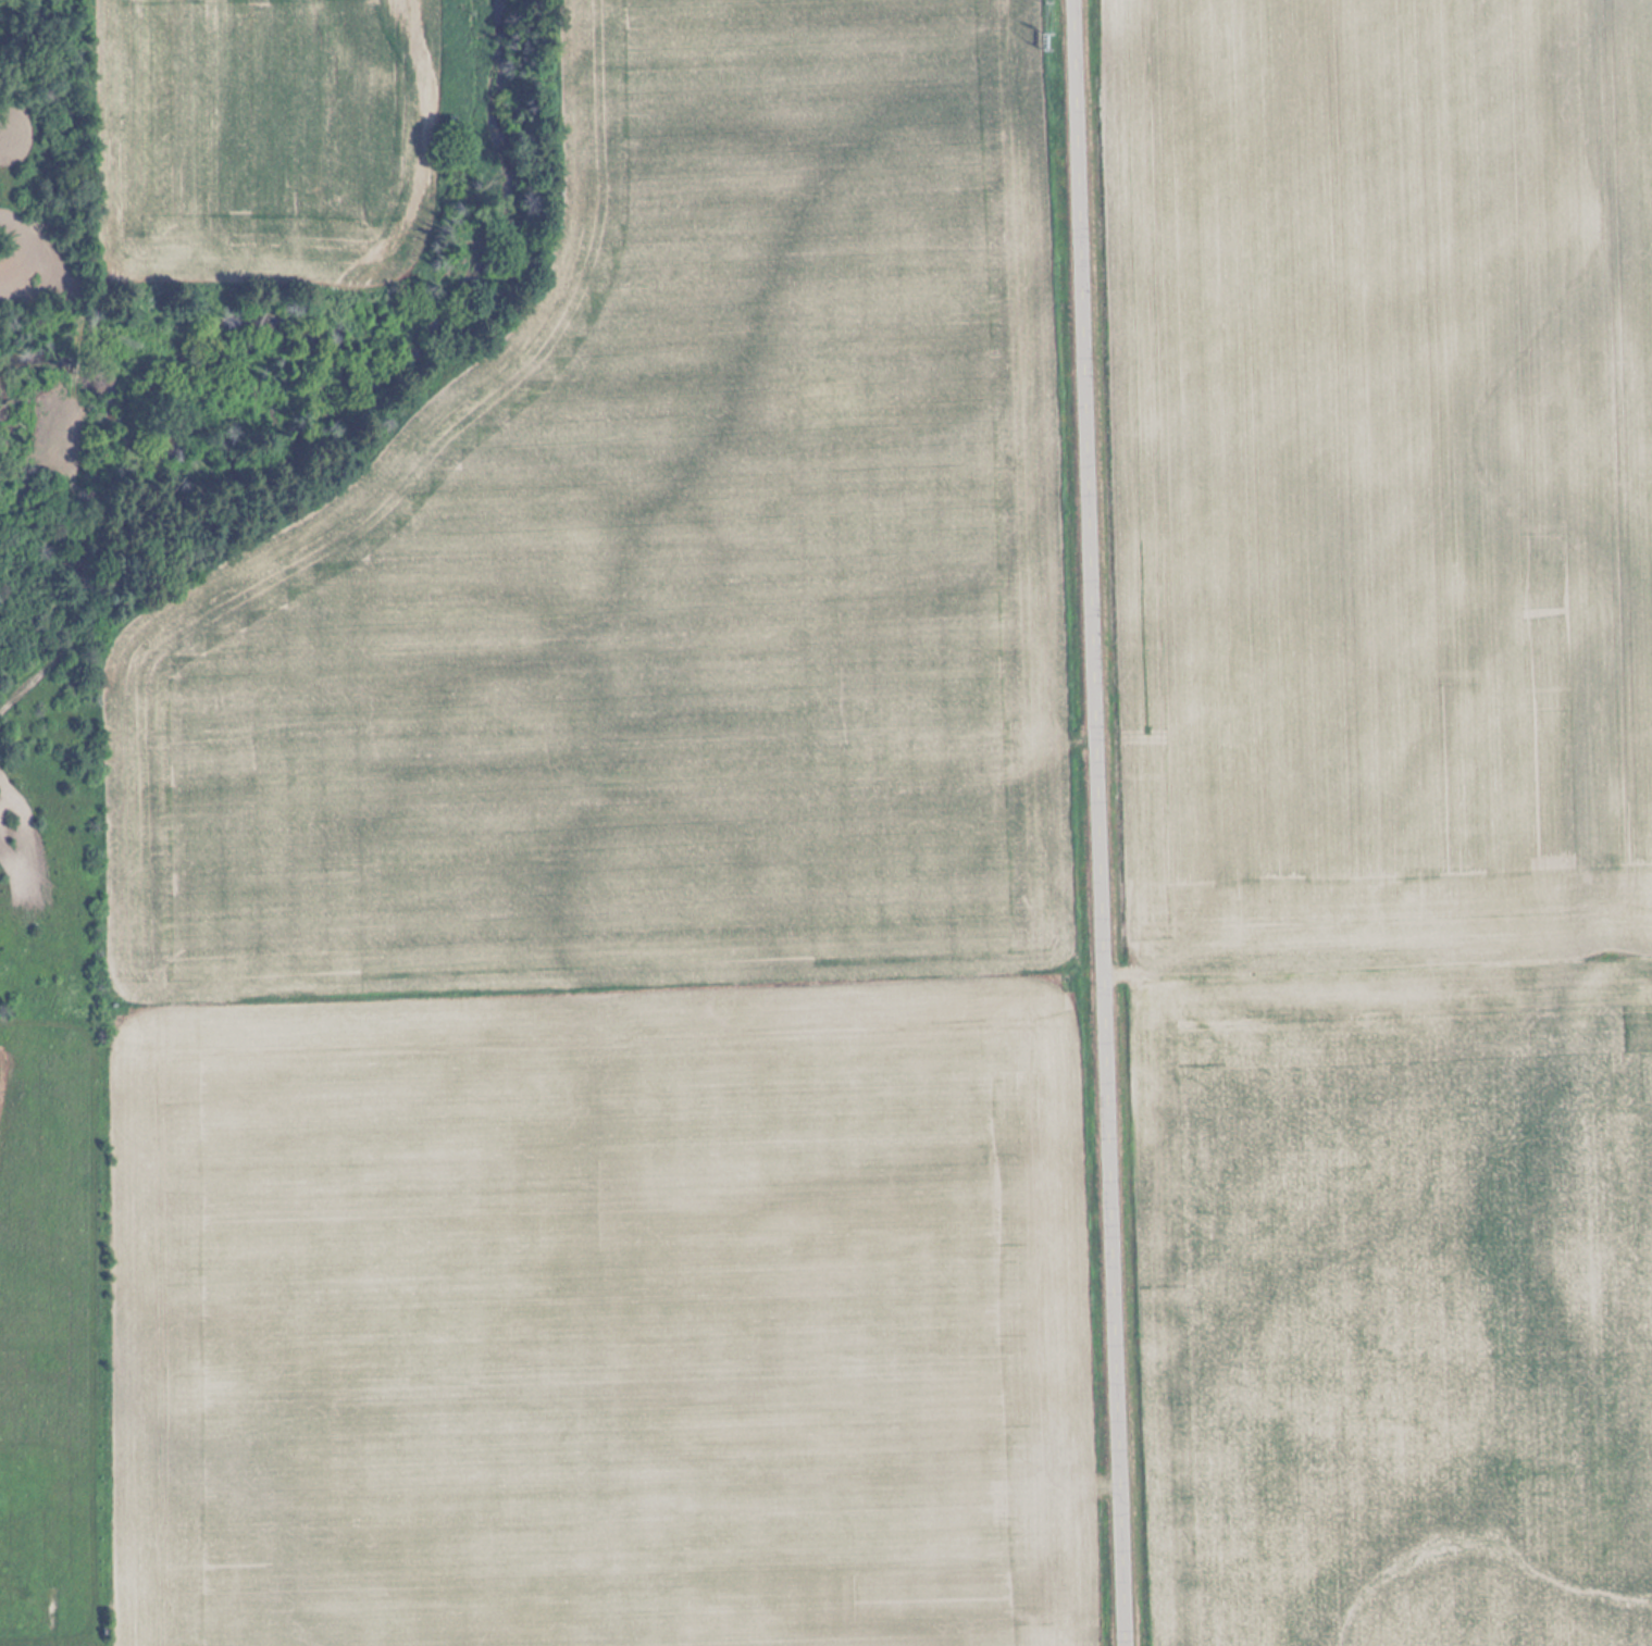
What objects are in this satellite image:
river: (336, 353)
road: (1091, 823)

